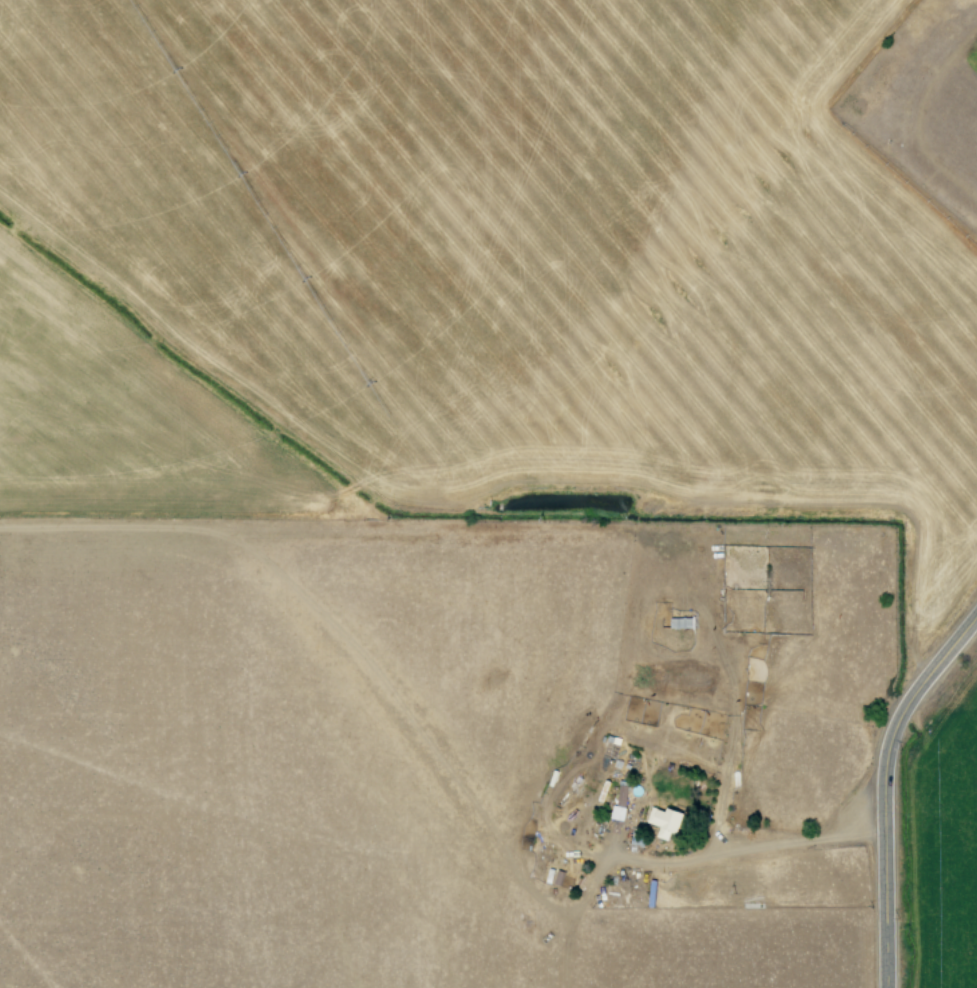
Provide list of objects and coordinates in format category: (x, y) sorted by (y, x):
building: (679, 623)
road: (881, 785)
building: (618, 804)
building: (662, 822)

